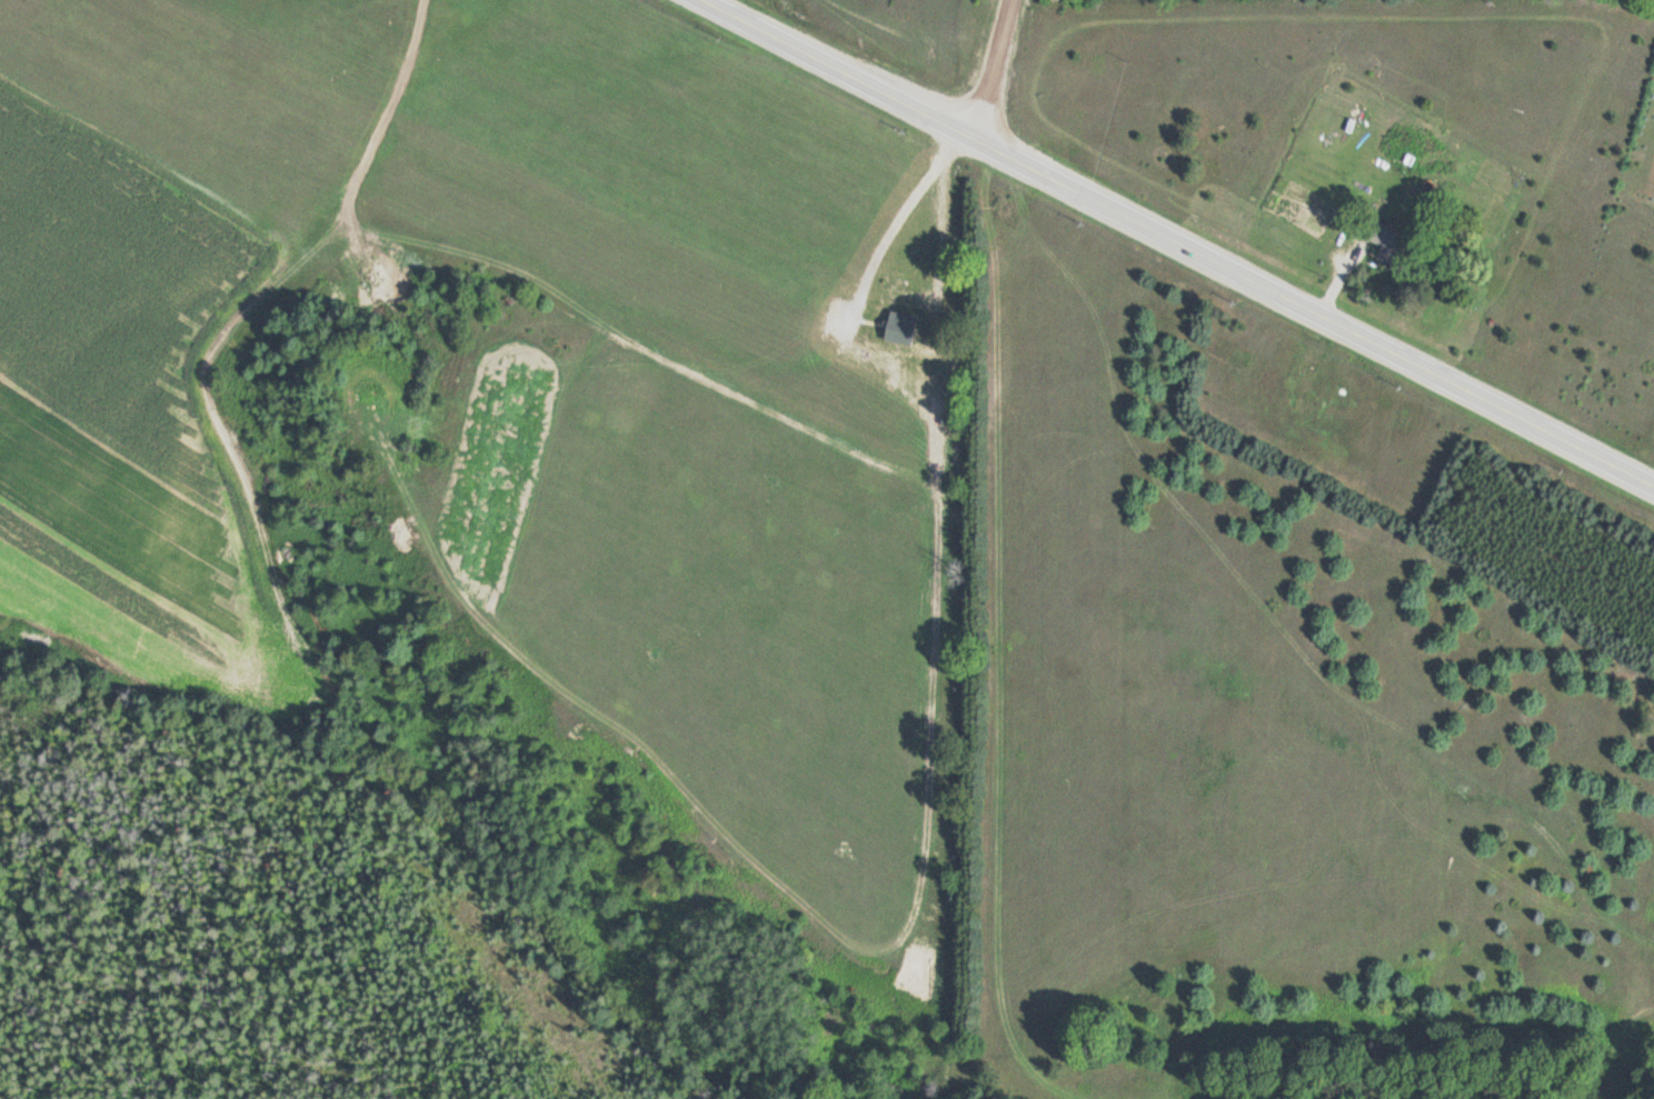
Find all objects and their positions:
road: (992, 70)
building: (1377, 238)
road: (1178, 243)

